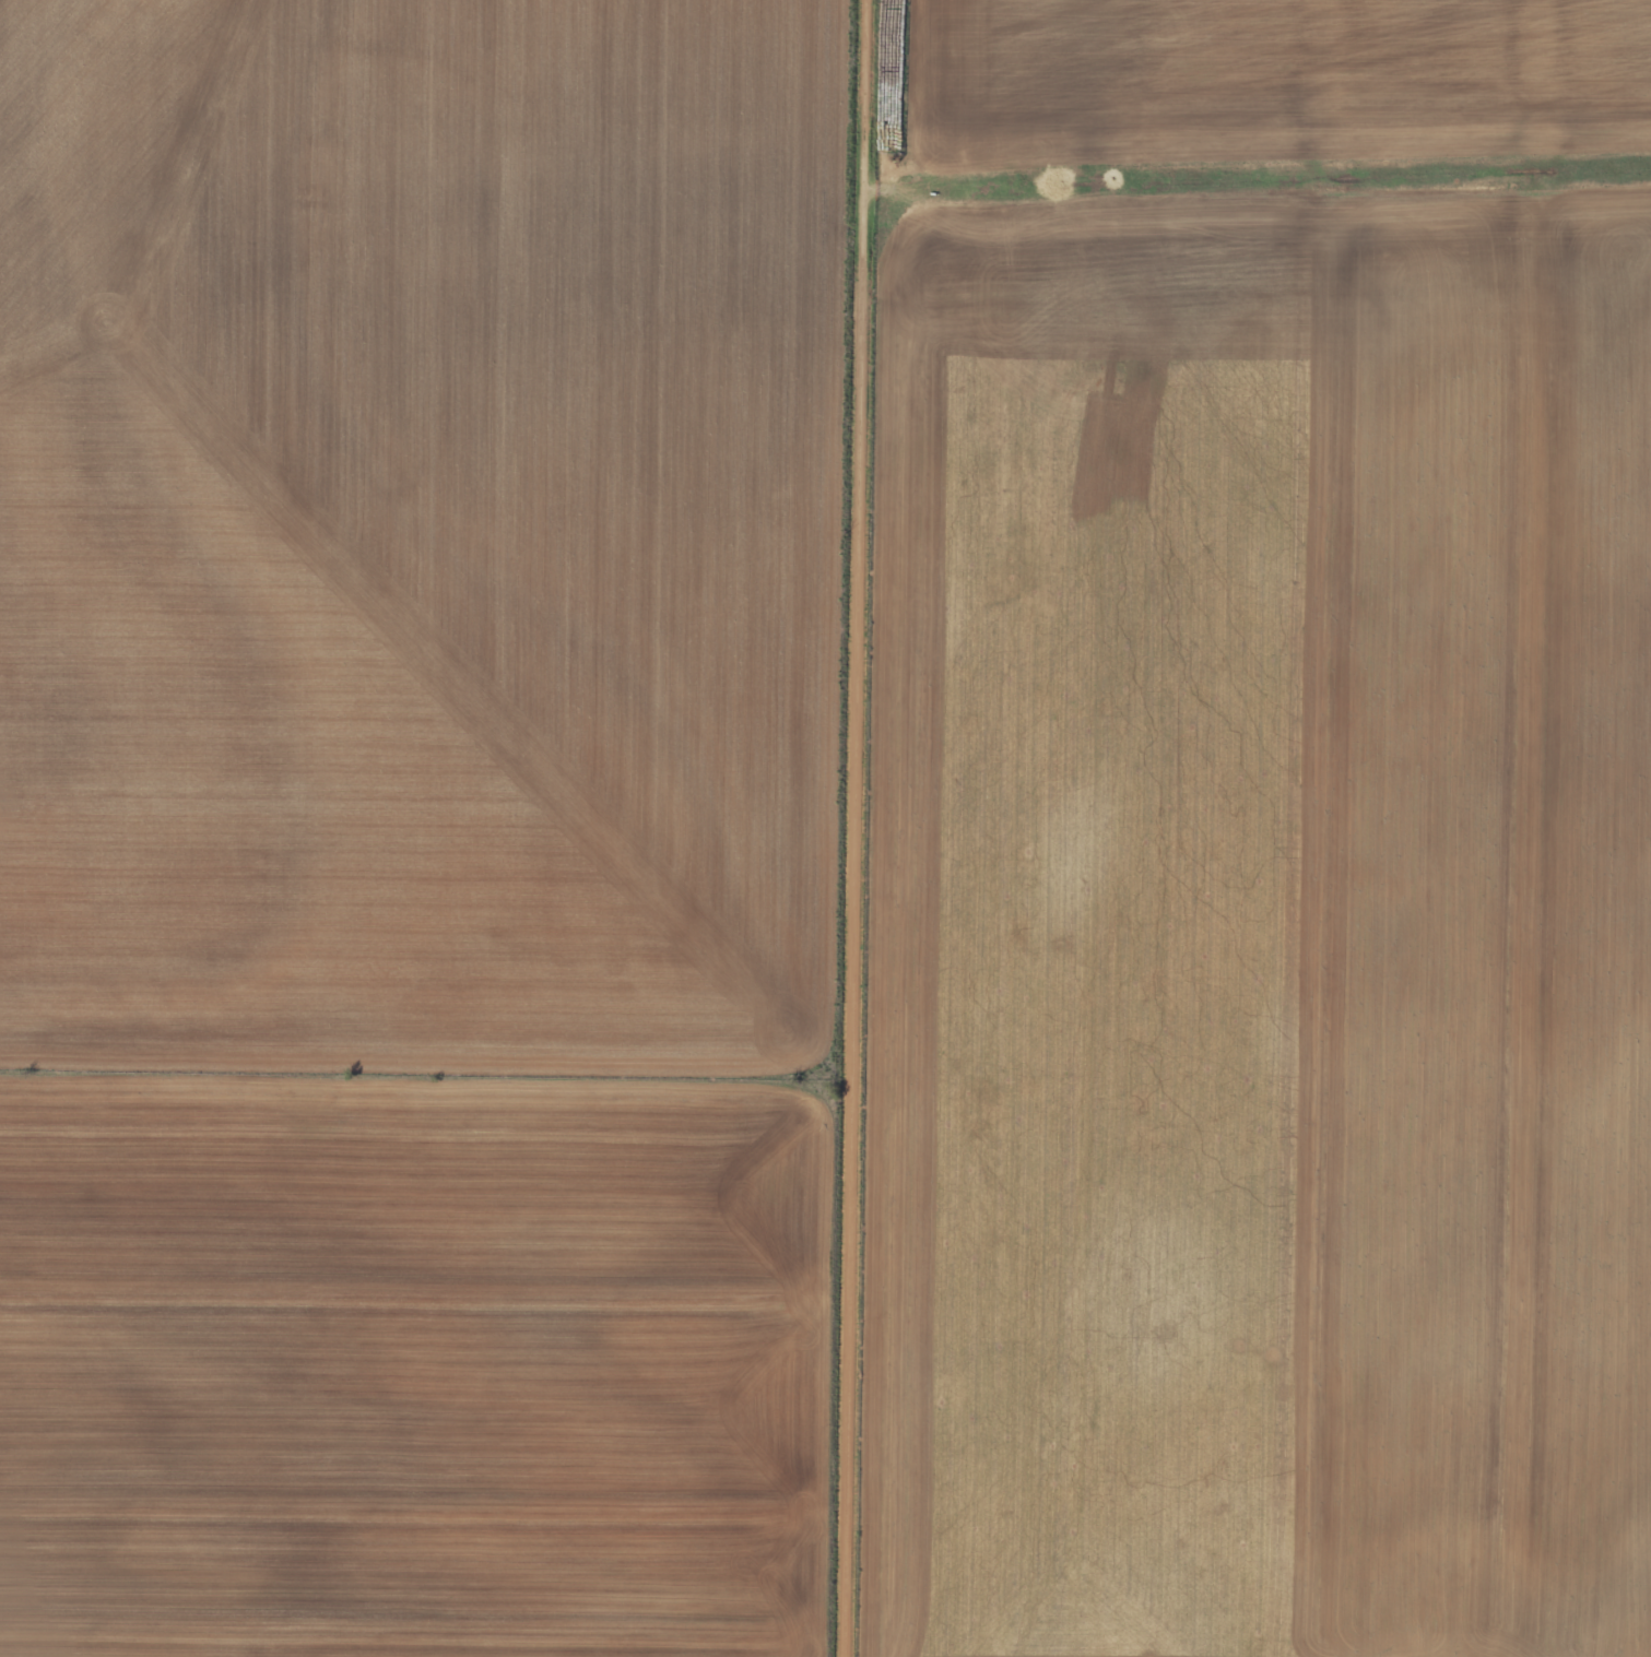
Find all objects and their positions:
road: (864, 828)

